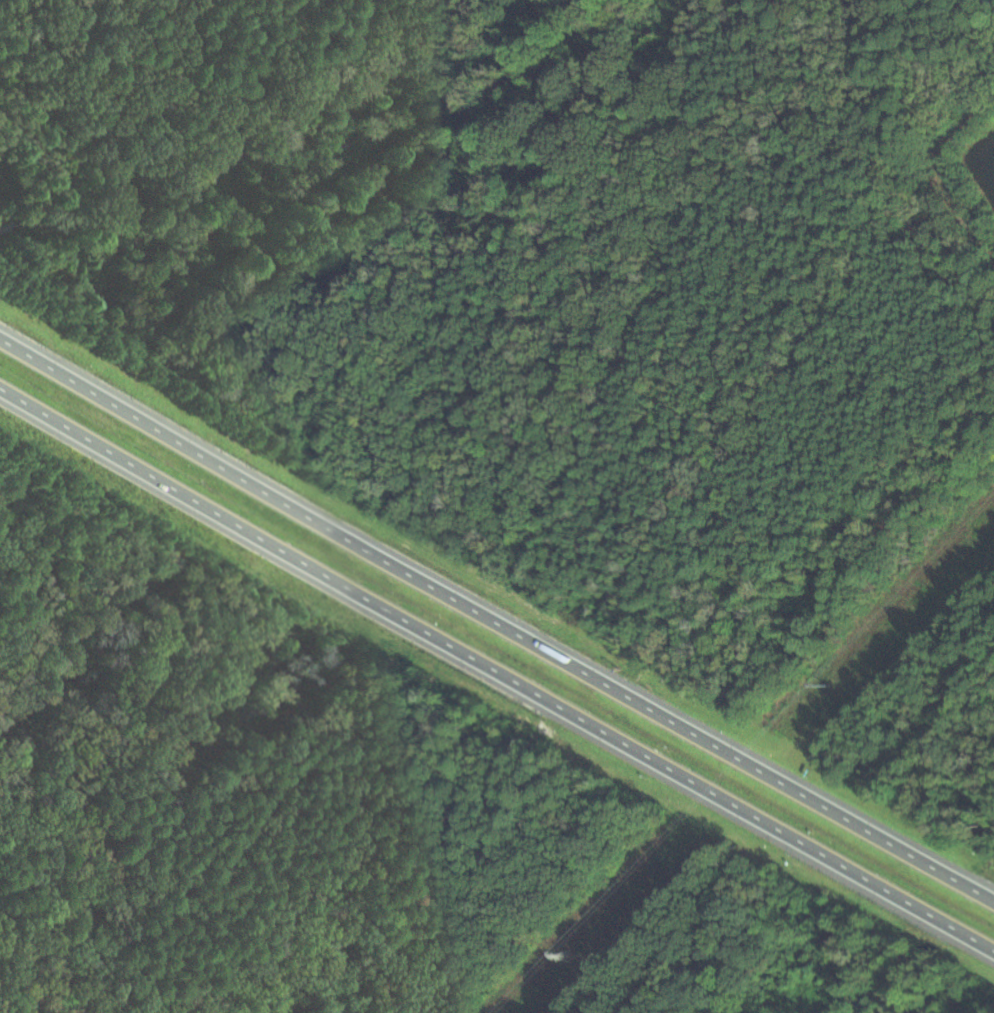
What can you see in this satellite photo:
road: (497, 620)
road: (497, 670)
power tower: (828, 684)
power tower: (569, 959)

